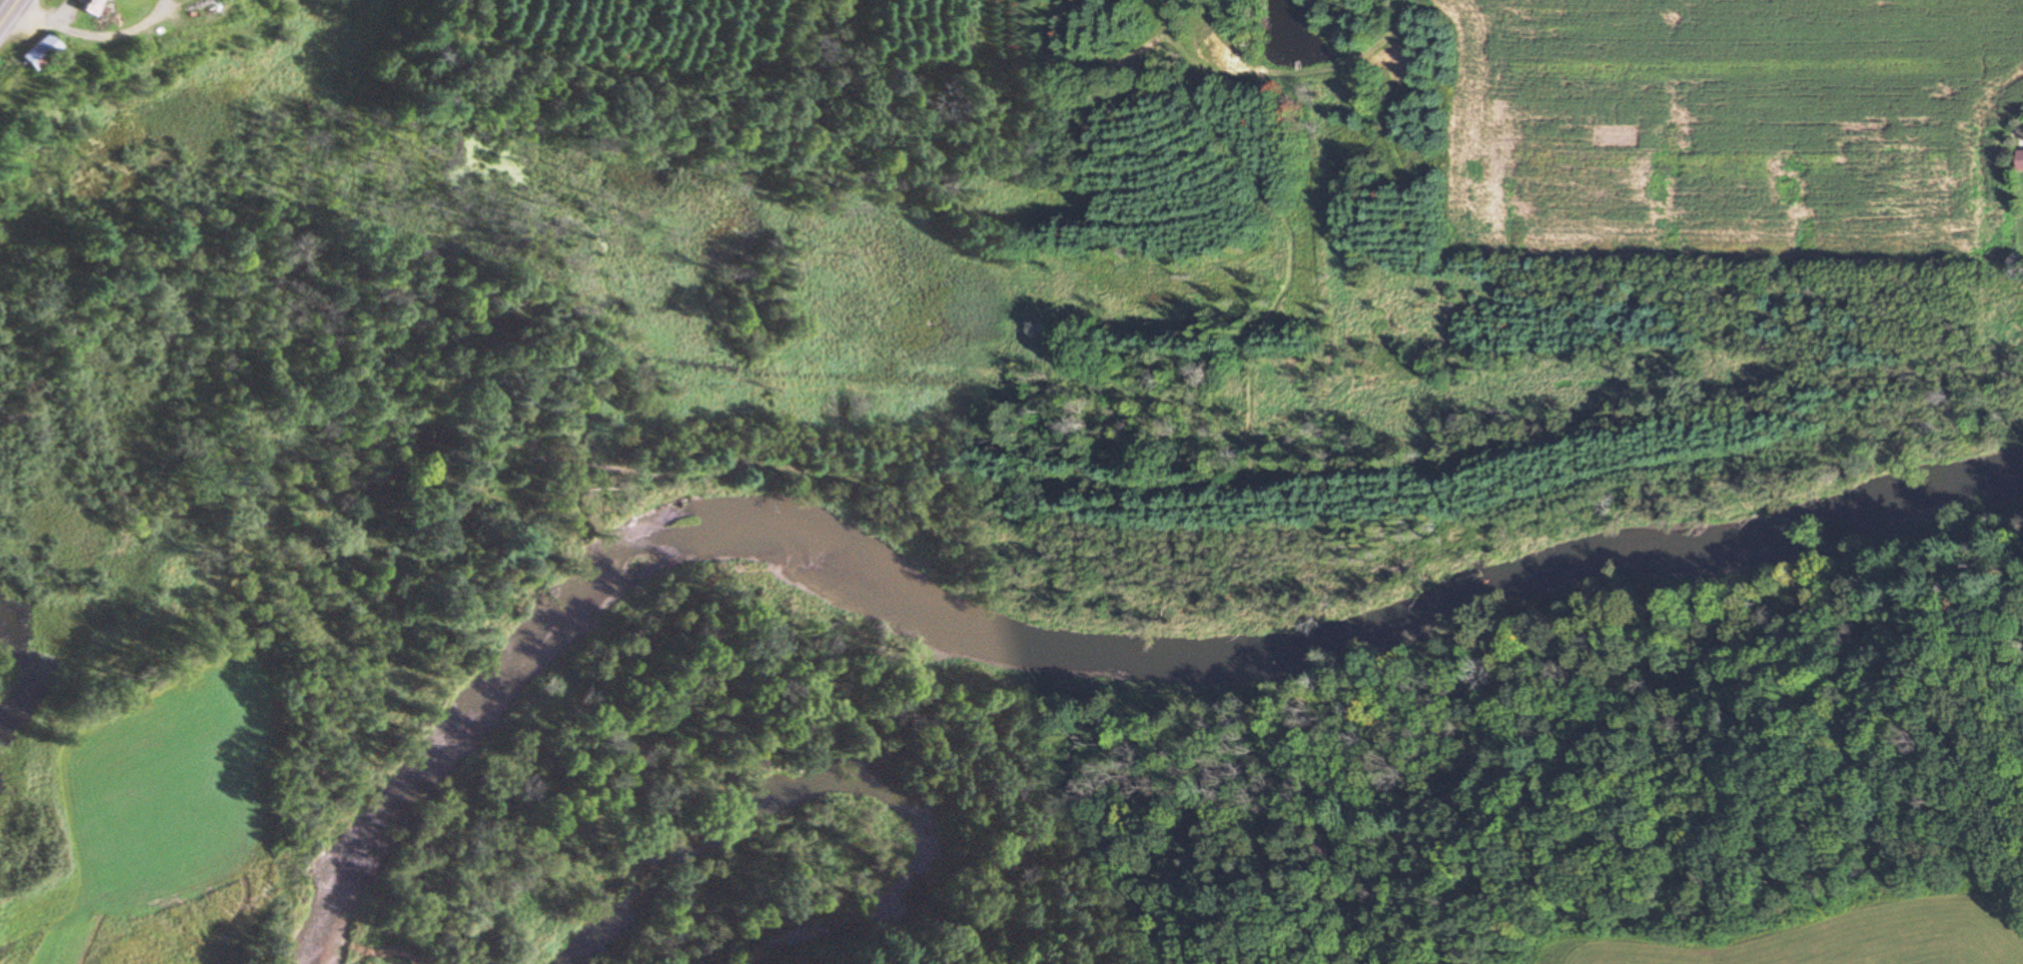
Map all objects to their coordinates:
building: (86, 6)
road: (8, 12)
building: (36, 52)
building: (2020, 161)
river: (1061, 646)

